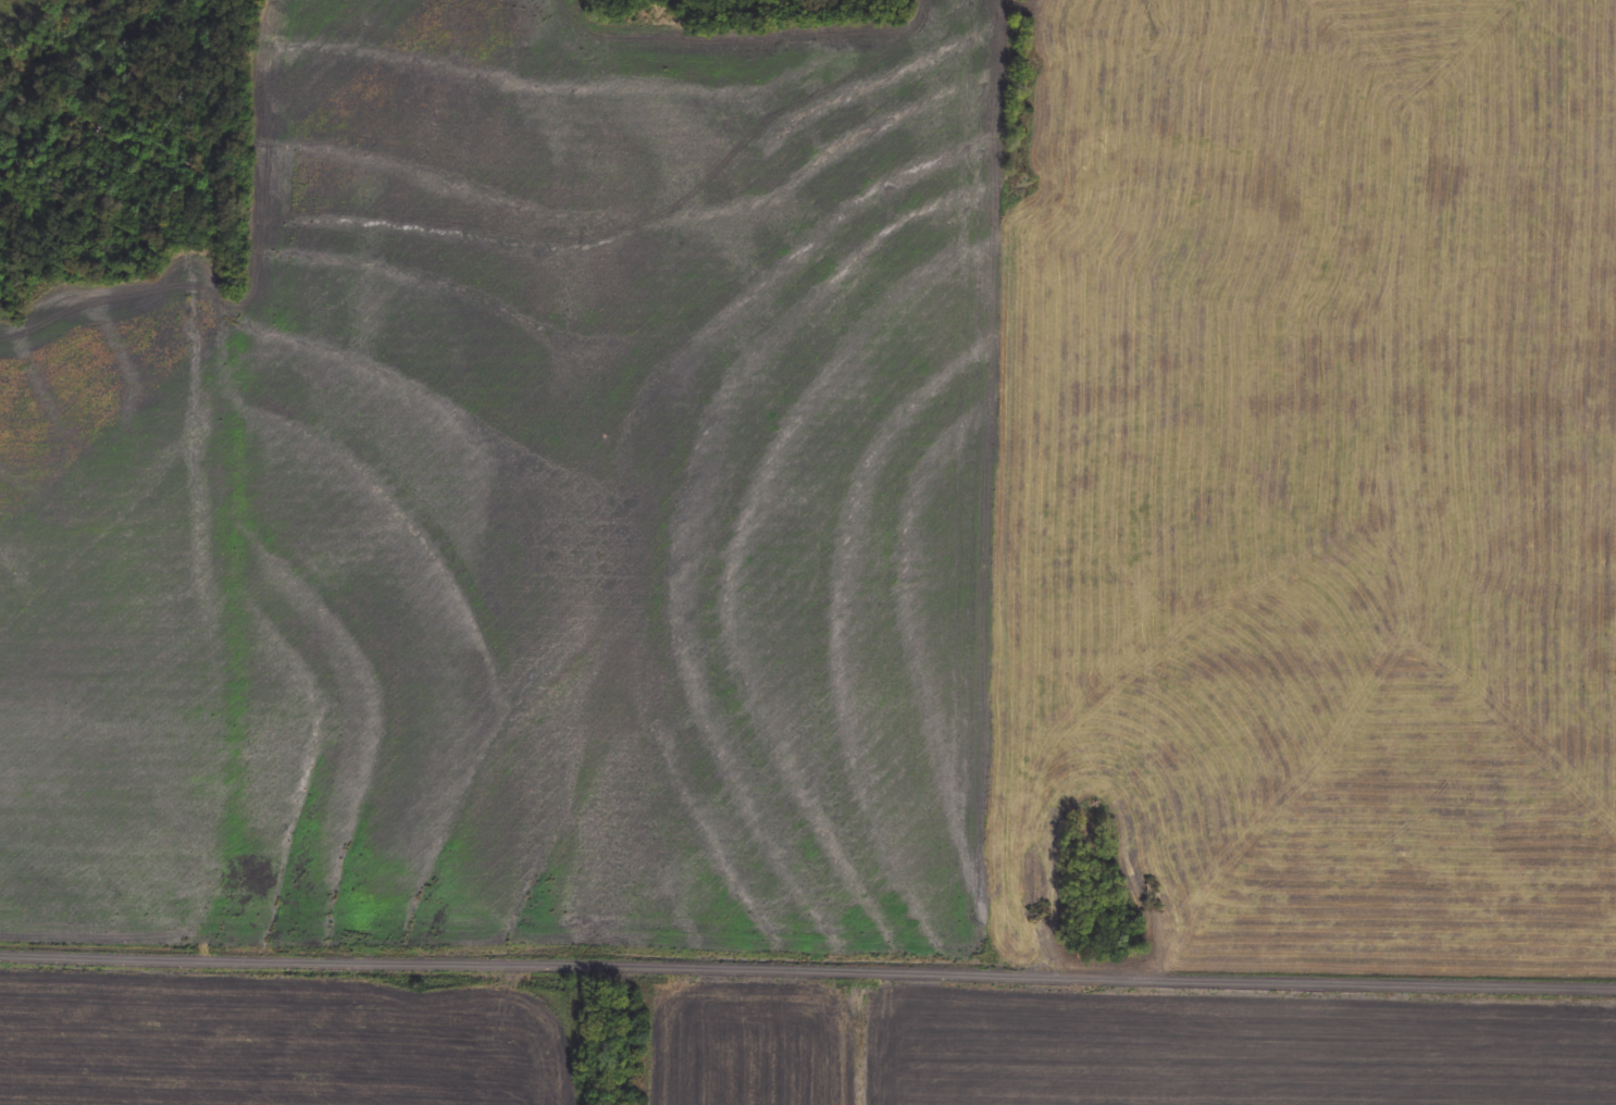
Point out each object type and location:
road: (808, 965)
road: (836, 1035)

